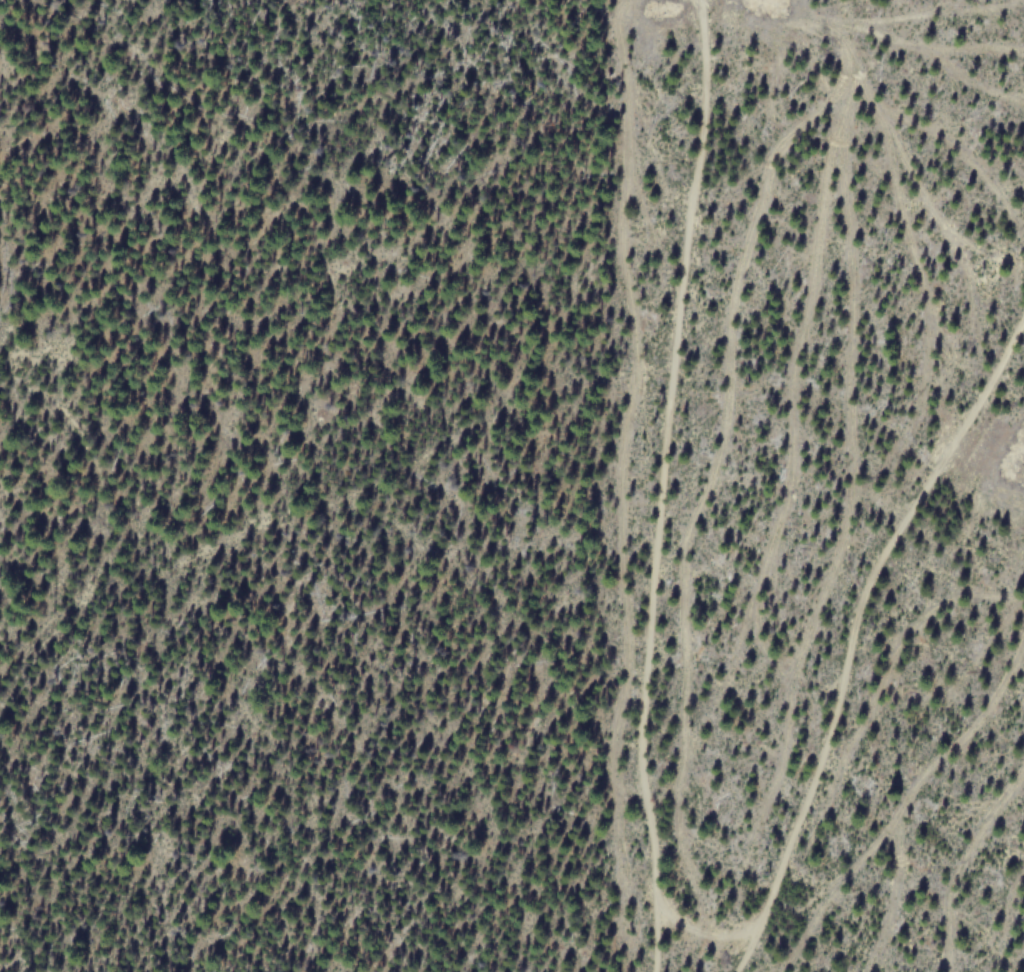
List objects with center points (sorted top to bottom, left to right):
road: (659, 485)
road: (859, 631)

